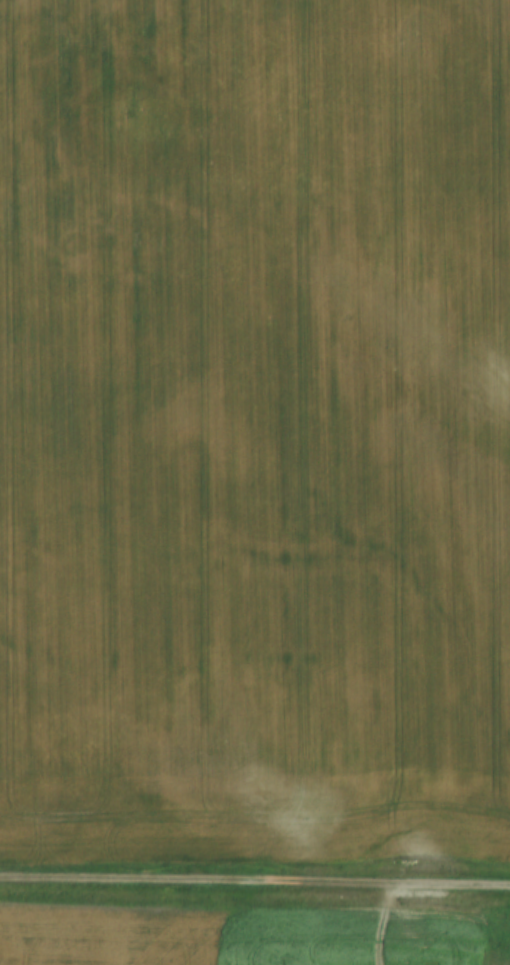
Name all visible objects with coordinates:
road: (254, 884)

